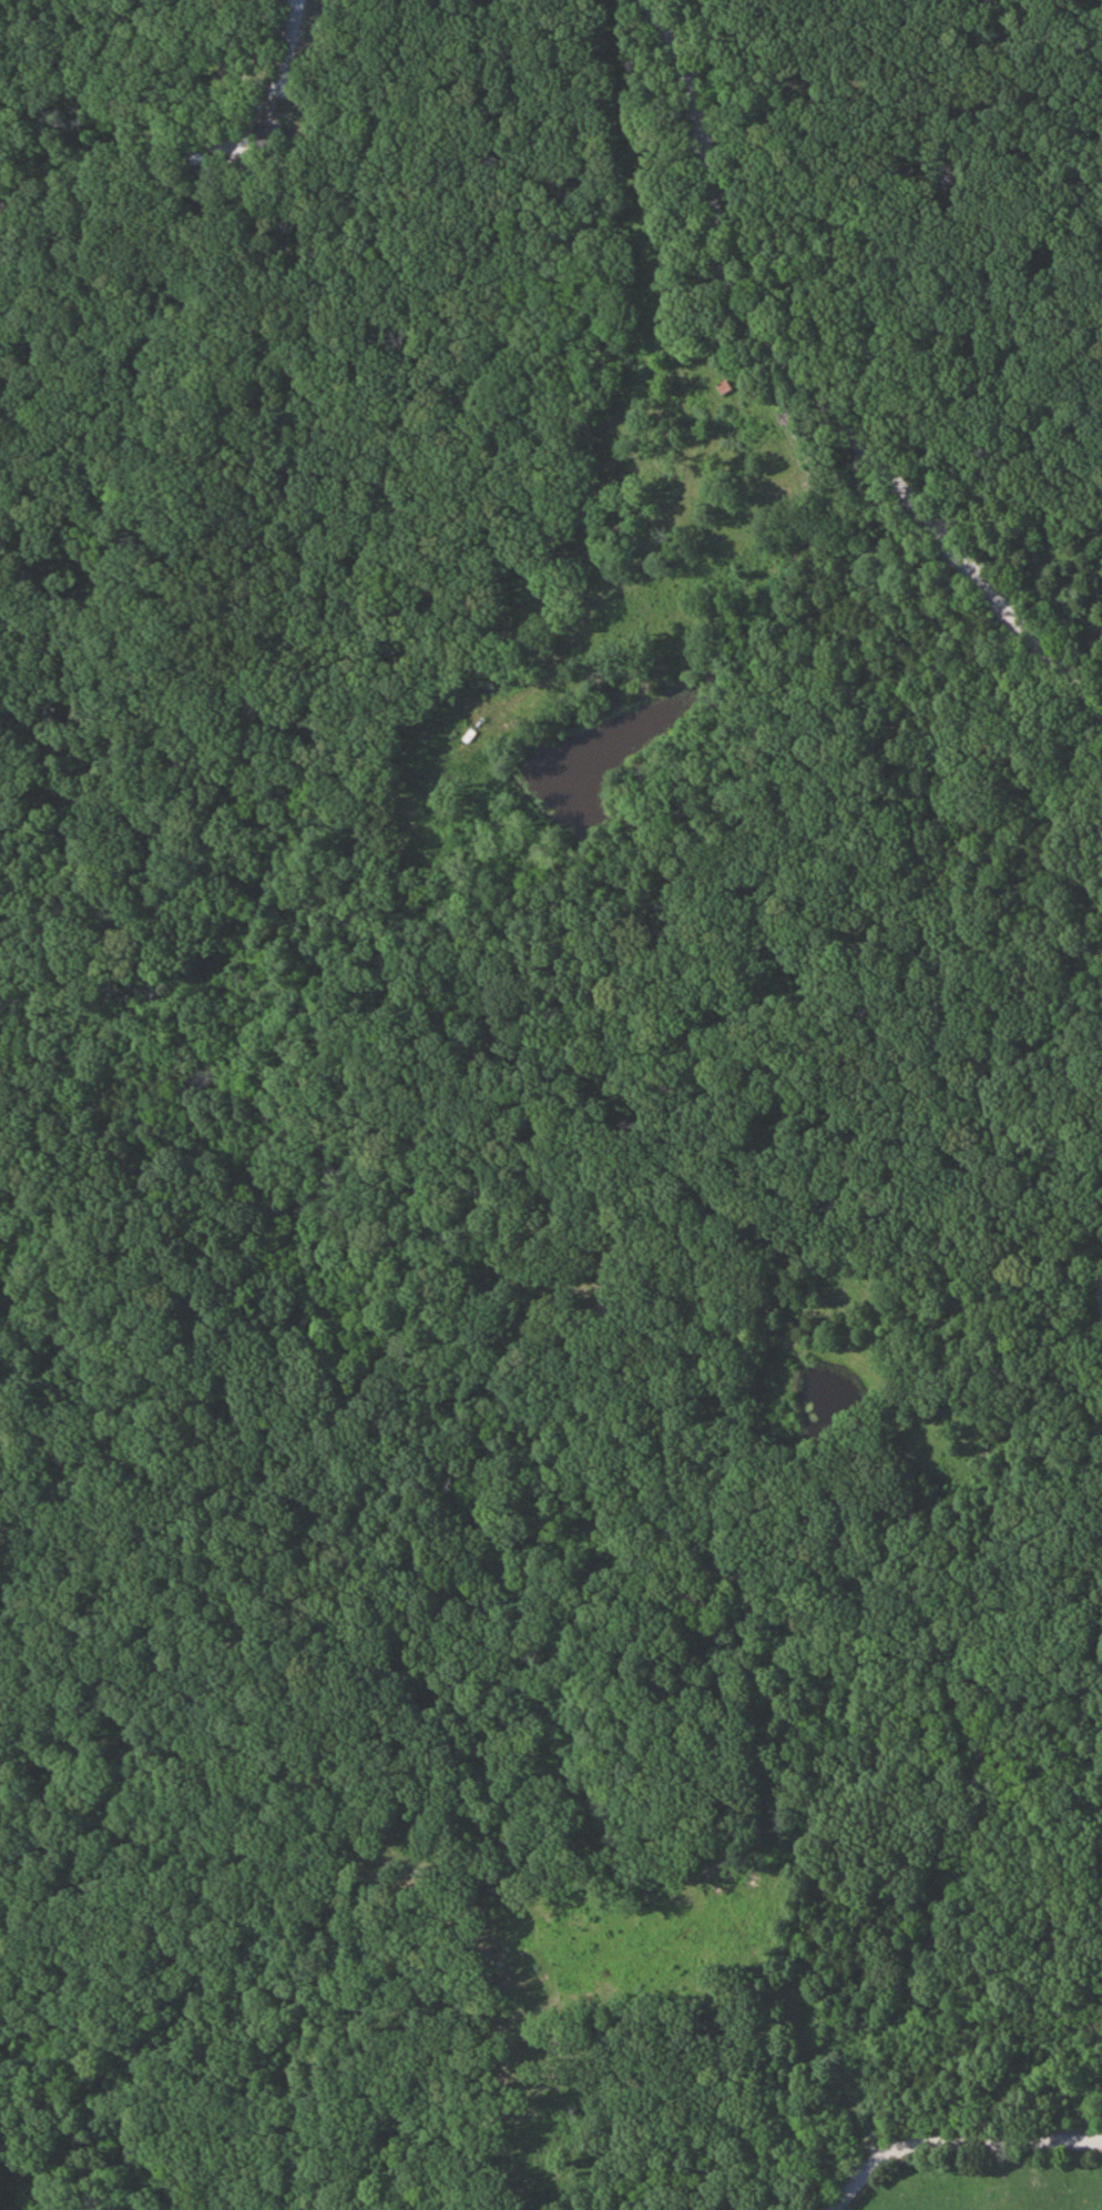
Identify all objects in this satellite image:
road: (269, 91)
building: (263, 136)
road: (734, 252)
road: (925, 449)
road: (1022, 564)
road: (1091, 1213)
road: (949, 2135)

